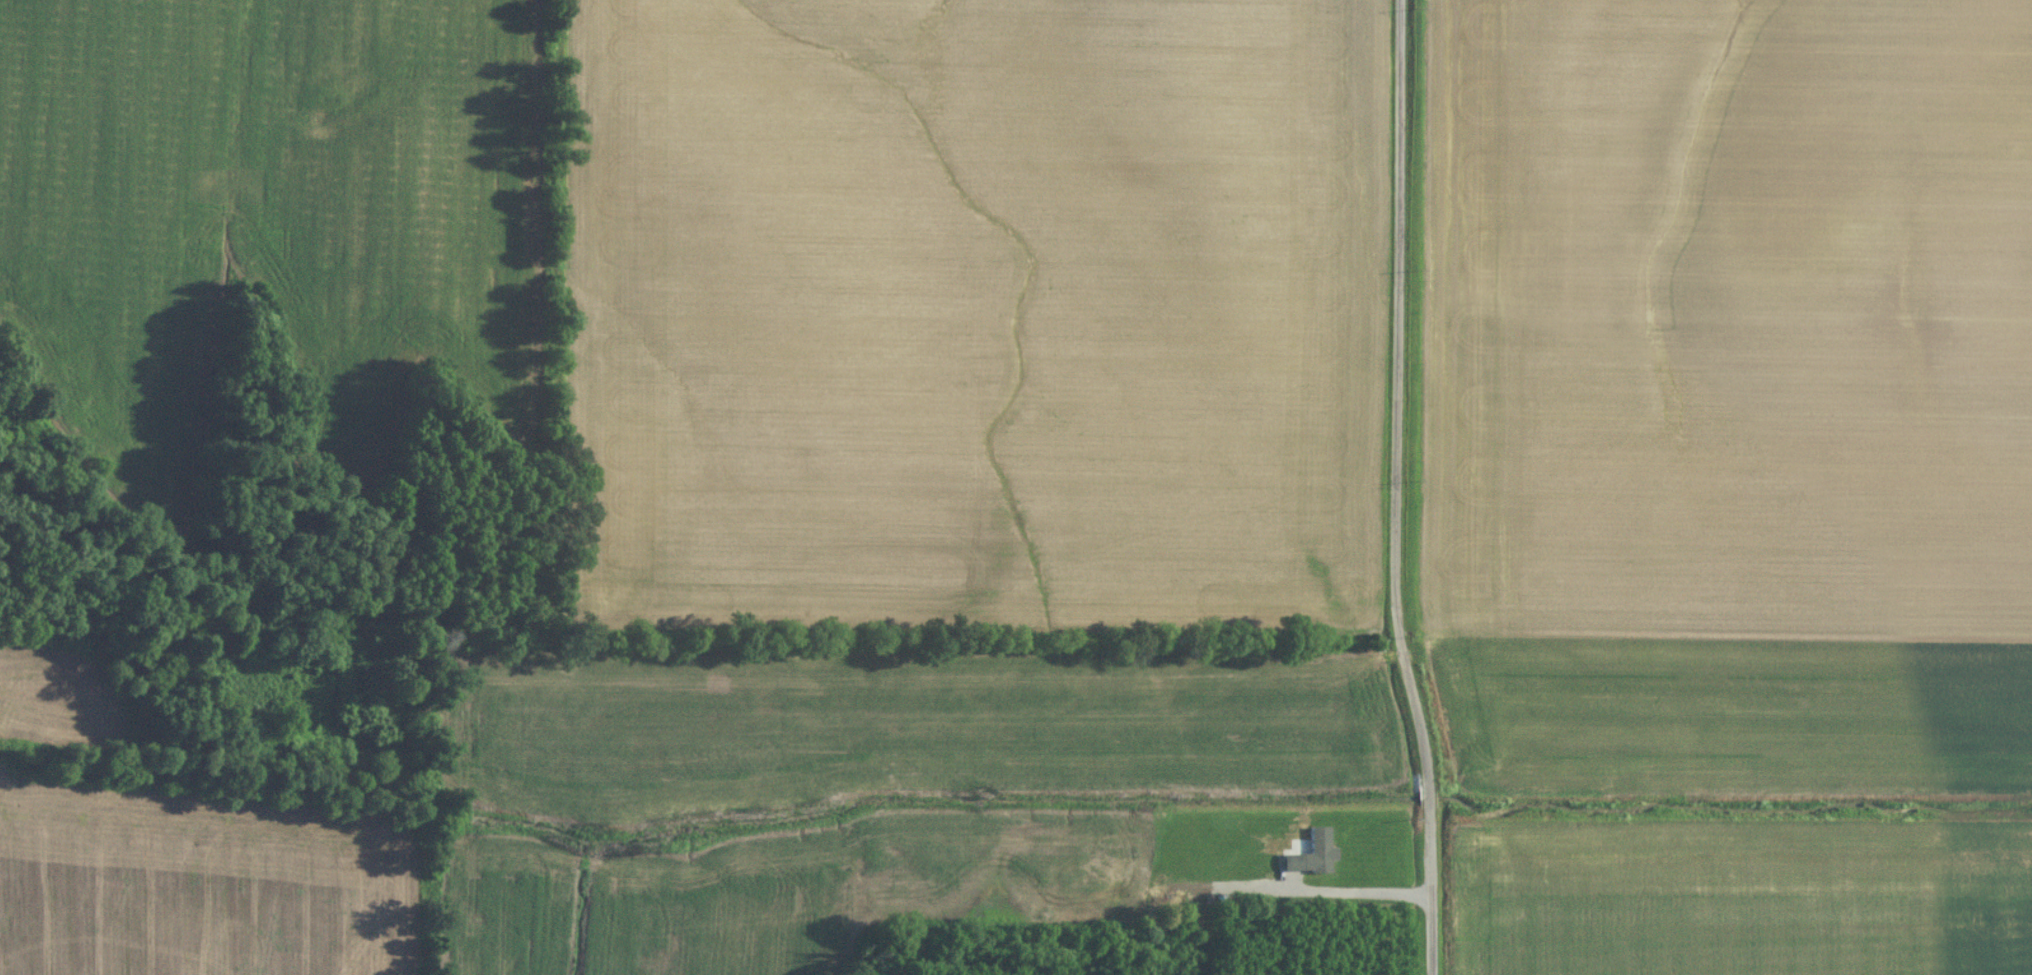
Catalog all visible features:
road: (1398, 488)
building: (1310, 855)
road: (1355, 897)

